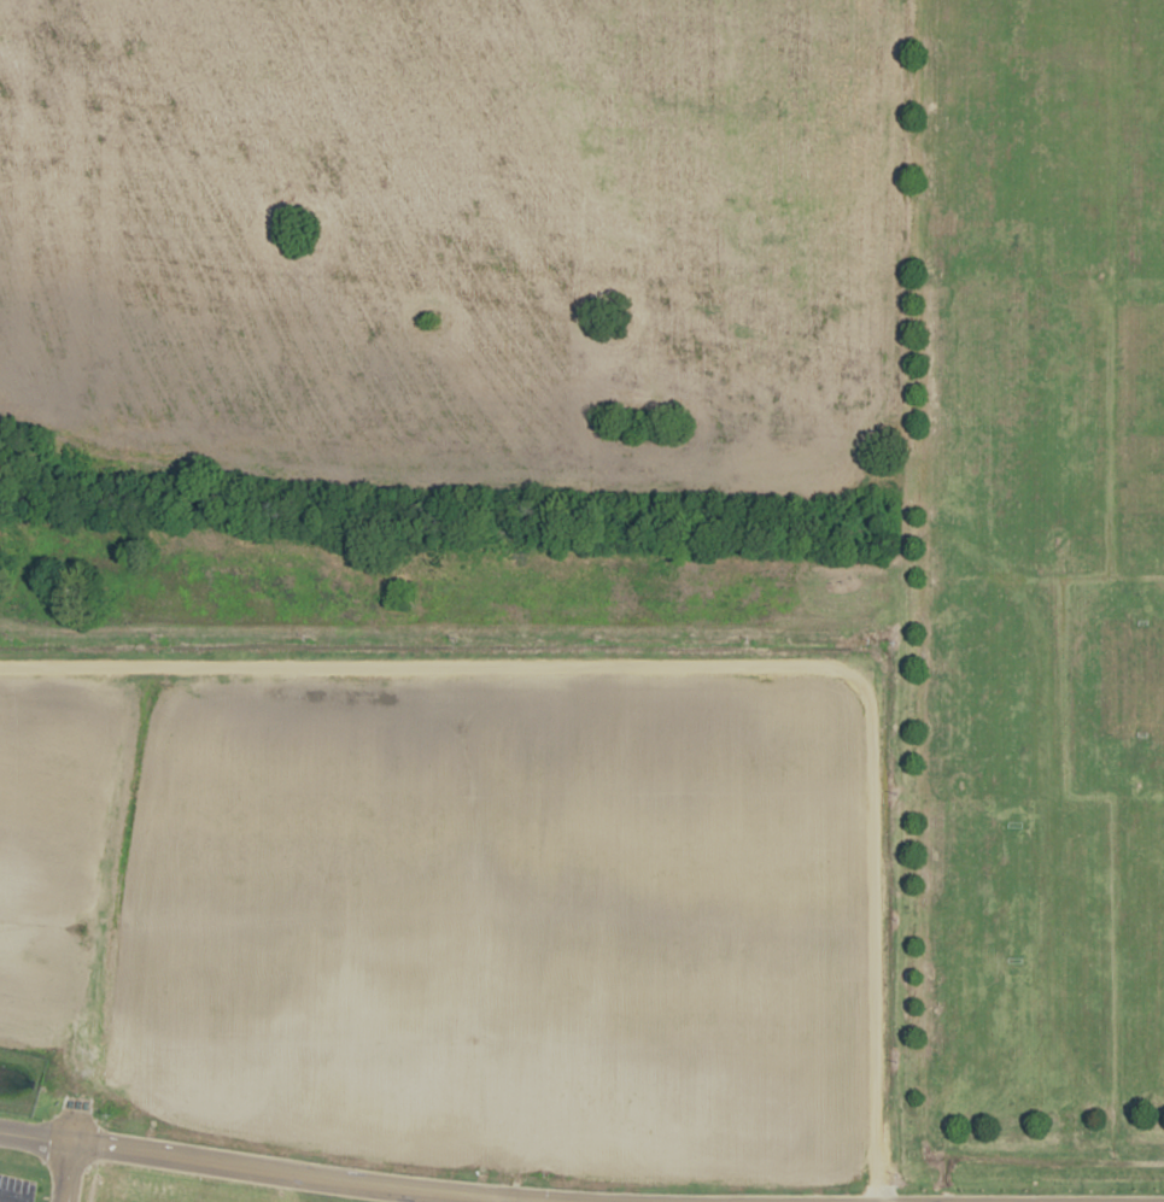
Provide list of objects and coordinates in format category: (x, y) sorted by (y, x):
park: (1157, 130)
crop: (445, 317)
park: (1012, 445)
park: (1154, 458)
park: (1039, 597)
road: (901, 600)
road: (696, 662)
park: (989, 676)
park: (1123, 680)
park: (988, 931)
road: (36, 1134)
road: (66, 1171)
road: (322, 1177)
parking lot: (16, 1183)
road: (11, 1200)
road: (511, 1200)

